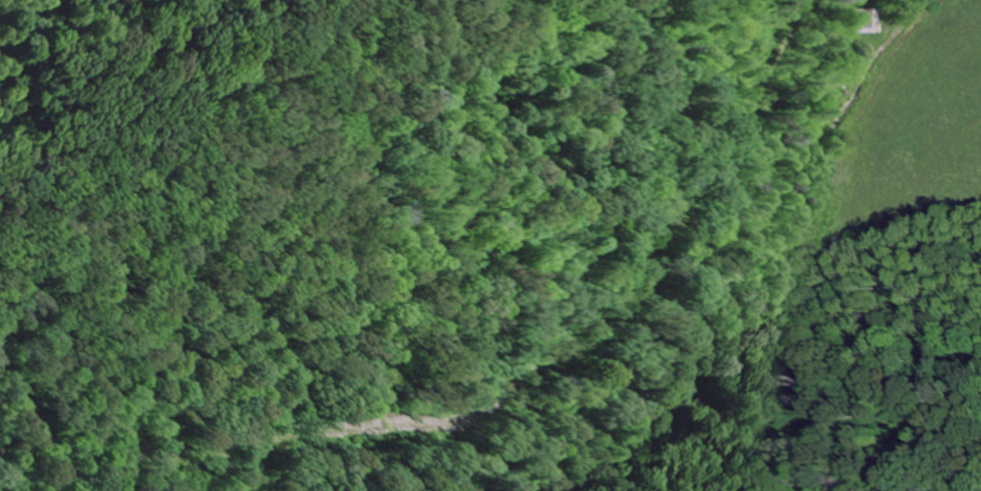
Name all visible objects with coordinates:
building: (874, 21)

